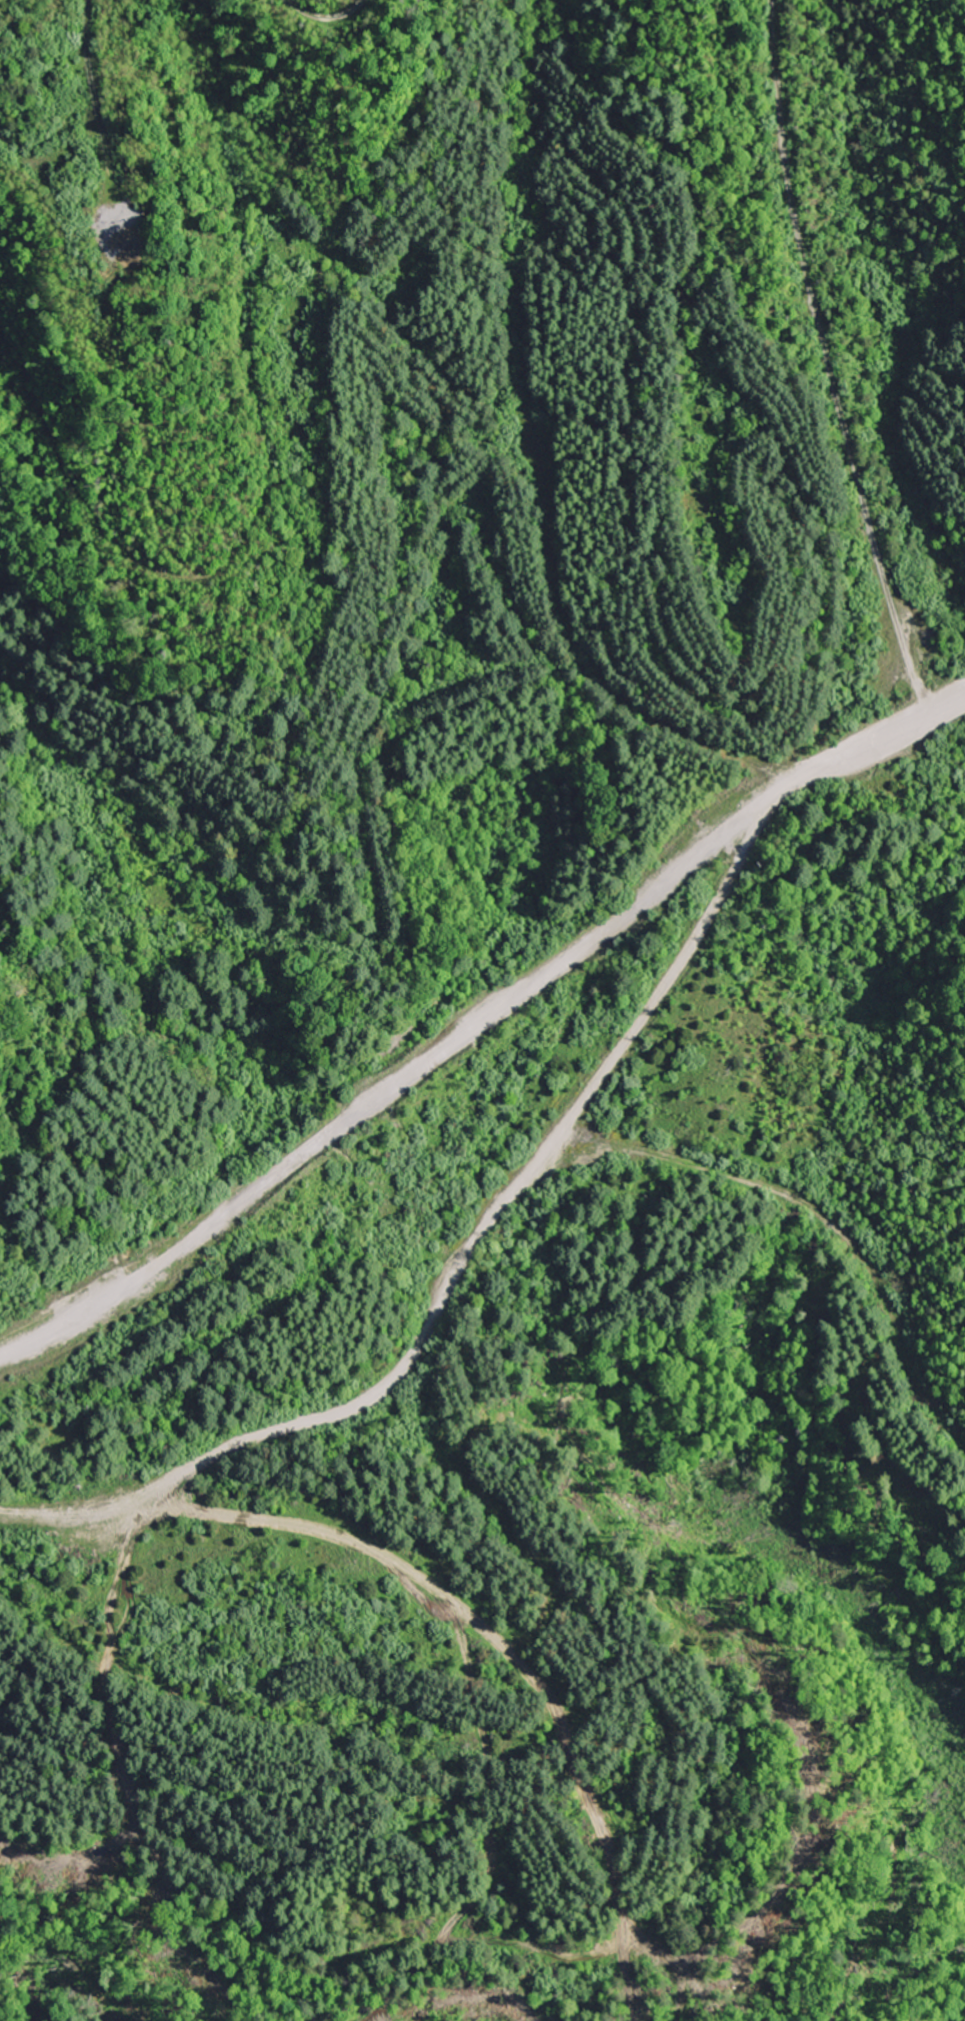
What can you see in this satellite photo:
road: (323, 20)
road: (95, 149)
road: (823, 358)
road: (492, 405)
road: (674, 965)
road: (504, 1198)

